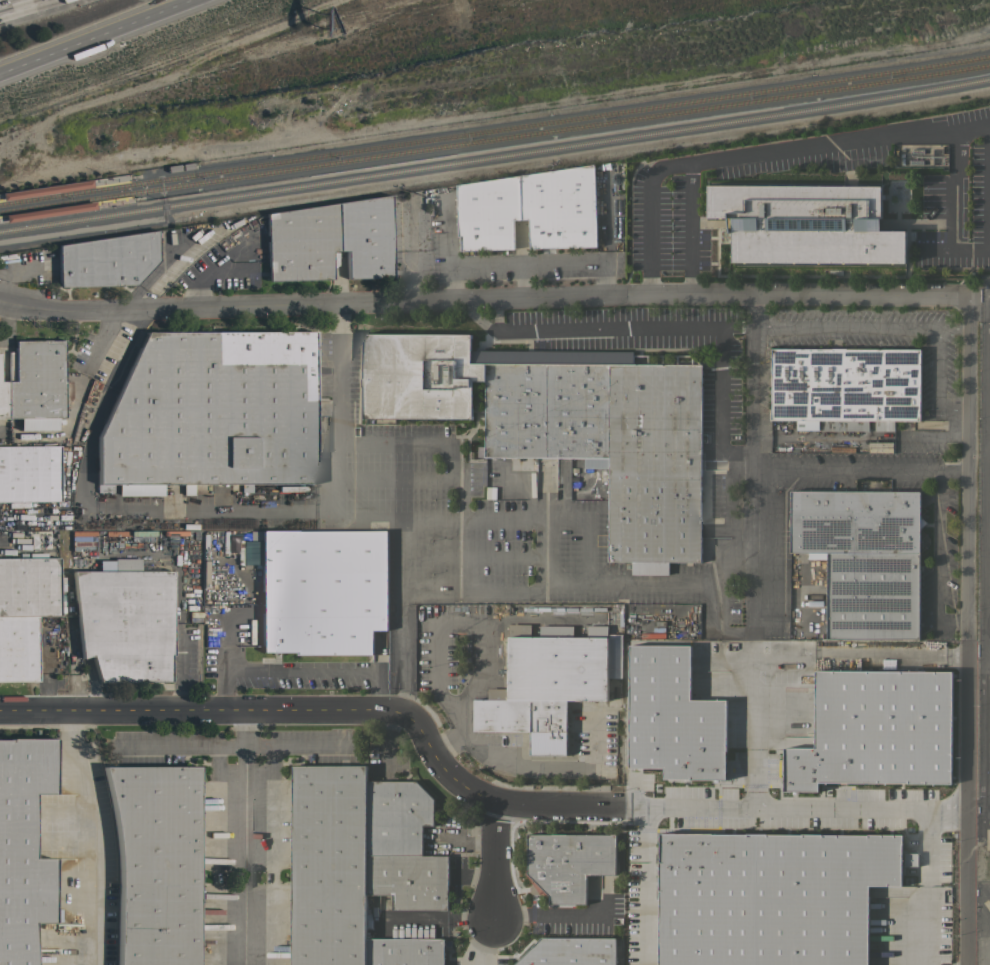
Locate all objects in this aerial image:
road: (8, 2)
road: (88, 35)
road: (970, 127)
railway: (495, 132)
railway: (494, 140)
road: (820, 146)
building: (919, 154)
railway: (495, 157)
railway: (125, 177)
railway: (128, 199)
building: (559, 207)
road: (950, 209)
building: (487, 213)
road: (649, 214)
building: (807, 223)
road: (689, 228)
building: (365, 237)
building: (300, 243)
building: (106, 260)
road: (529, 264)
road: (415, 271)
road: (523, 280)
road: (601, 294)
road: (797, 294)
road: (287, 303)
road: (5, 323)
road: (861, 325)
road: (590, 327)
road: (939, 379)
building: (845, 387)
road: (723, 390)
building: (38, 391)
building: (494, 392)
building: (1, 399)
building: (210, 413)
road: (988, 442)
road: (970, 454)
building: (654, 460)
building: (522, 464)
road: (754, 466)
road: (862, 469)
building: (29, 473)
road: (986, 479)
road: (104, 509)
road: (481, 519)
road: (5, 550)
building: (863, 558)
road: (937, 558)
building: (29, 586)
building: (322, 590)
road: (457, 592)
building: (125, 621)
building: (17, 648)
road: (403, 652)
road: (986, 666)
road: (301, 668)
building: (549, 681)
road: (442, 696)
road: (331, 709)
road: (968, 713)
building: (671, 717)
road: (755, 723)
building: (874, 730)
road: (983, 738)
road: (292, 745)
road: (986, 754)
road: (664, 807)
road: (836, 809)
road: (986, 811)
building: (396, 817)
road: (87, 832)
road: (242, 837)
building: (23, 847)
road: (496, 861)
building: (155, 863)
building: (568, 863)
building: (328, 865)
building: (409, 879)
road: (646, 885)
road: (965, 887)
road: (546, 915)
road: (486, 942)
building: (404, 951)
building: (569, 951)

